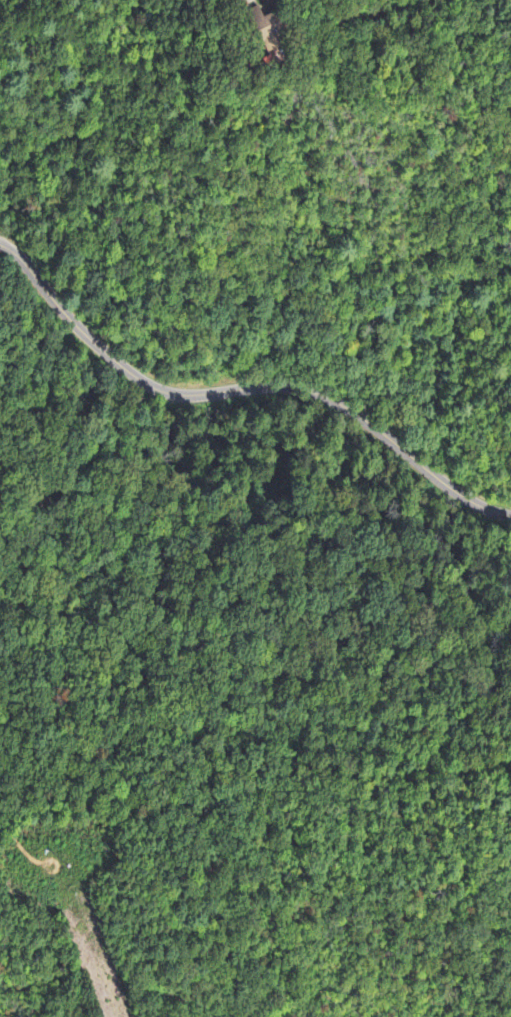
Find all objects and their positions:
road: (244, 388)

